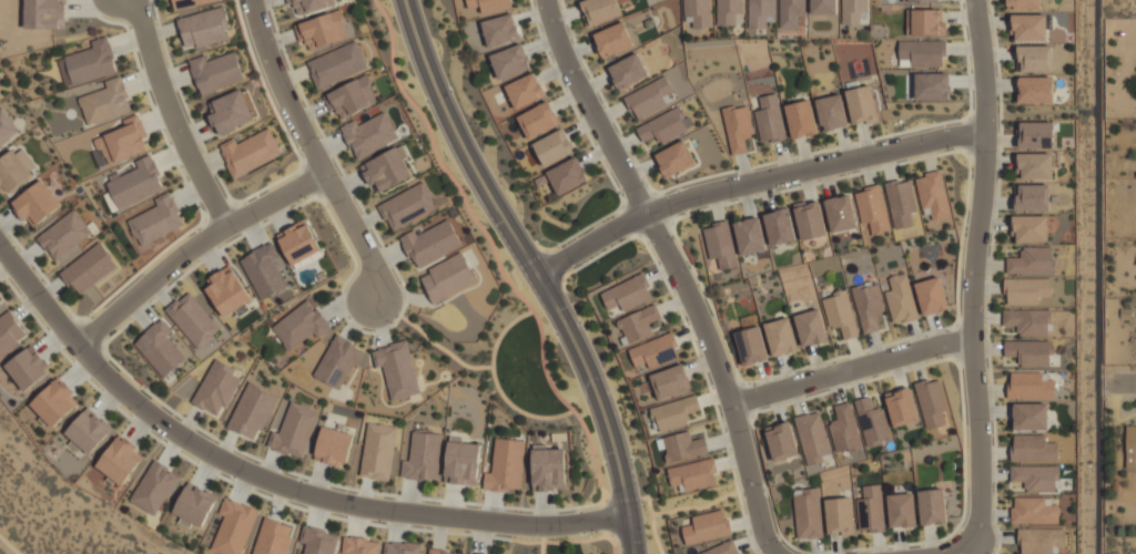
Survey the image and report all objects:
building: (924, 0)
building: (190, 3)
building: (1023, 3)
building: (311, 4)
building: (490, 4)
building: (823, 7)
building: (600, 10)
building: (728, 11)
building: (854, 11)
building: (700, 12)
building: (47, 13)
building: (760, 13)
building: (790, 13)
building: (925, 22)
building: (205, 27)
building: (1028, 27)
building: (326, 29)
building: (499, 30)
building: (612, 40)
building: (921, 53)
building: (1035, 58)
building: (509, 61)
building: (89, 62)
building: (337, 64)
road: (984, 65)
building: (627, 71)
building: (216, 72)
building: (932, 85)
building: (1035, 90)
building: (525, 91)
building: (352, 96)
building: (650, 98)
building: (106, 101)
building: (861, 104)
building: (230, 111)
building: (831, 112)
road: (172, 115)
building: (800, 119)
building: (537, 120)
building: (769, 120)
building: (665, 125)
building: (7, 126)
building: (737, 127)
building: (369, 134)
building: (1035, 134)
building: (123, 140)
building: (552, 147)
street lamp: (954, 148)
road: (314, 150)
building: (250, 152)
building: (674, 158)
building: (1035, 166)
building: (387, 170)
building: (12, 172)
building: (567, 175)
road: (754, 182)
building: (136, 183)
street lamp: (623, 195)
building: (932, 195)
street lamp: (307, 197)
building: (1032, 197)
building: (901, 202)
building: (37, 203)
building: (407, 206)
building: (872, 209)
building: (840, 214)
building: (156, 219)
building: (809, 220)
building: (779, 226)
building: (1031, 228)
building: (65, 234)
building: (749, 236)
street lamp: (674, 238)
building: (300, 242)
building: (432, 243)
building: (719, 245)
road: (193, 247)
building: (1031, 260)
building: (89, 267)
building: (265, 270)
road: (535, 270)
road: (677, 270)
building: (448, 277)
building: (229, 290)
building: (1028, 290)
building: (629, 294)
building: (931, 296)
building: (0, 298)
building: (900, 299)
building: (868, 306)
building: (840, 314)
street lamp: (93, 316)
building: (194, 319)
building: (1028, 321)
street lamp: (394, 322)
building: (638, 324)
building: (302, 325)
building: (810, 328)
building: (10, 332)
building: (780, 337)
building: (751, 346)
building: (161, 348)
building: (655, 351)
road: (974, 351)
building: (1029, 352)
street lamp: (942, 357)
building: (338, 361)
street lamp: (568, 365)
building: (28, 367)
road: (470, 368)
building: (398, 369)
road: (852, 369)
road: (1125, 380)
building: (670, 381)
street lamp: (755, 384)
building: (1029, 386)
street lamp: (146, 387)
building: (217, 388)
building: (932, 401)
building: (55, 402)
building: (903, 407)
building: (252, 410)
building: (673, 412)
building: (1029, 417)
building: (88, 431)
building: (294, 431)
building: (876, 432)
building: (814, 439)
building: (845, 439)
building: (783, 441)
building: (334, 445)
building: (683, 447)
building: (1130, 447)
building: (1033, 449)
building: (378, 451)
building: (424, 456)
building: (120, 460)
building: (461, 461)
building: (506, 465)
building: (548, 468)
building: (693, 475)
building: (1035, 478)
road: (268, 483)
building: (154, 488)
building: (194, 505)
building: (933, 506)
building: (871, 510)
building: (902, 510)
building: (1034, 510)
park: (58, 512)
building: (808, 513)
building: (840, 515)
street lamp: (385, 523)
building: (234, 526)
building: (706, 526)
street lamp: (598, 532)
building: (273, 537)
road: (16, 538)
building: (318, 541)
building: (1041, 541)
street lamp: (783, 542)
building: (361, 545)
park: (569, 545)
building: (403, 547)
road: (541, 547)
building: (722, 548)
building: (438, 552)

